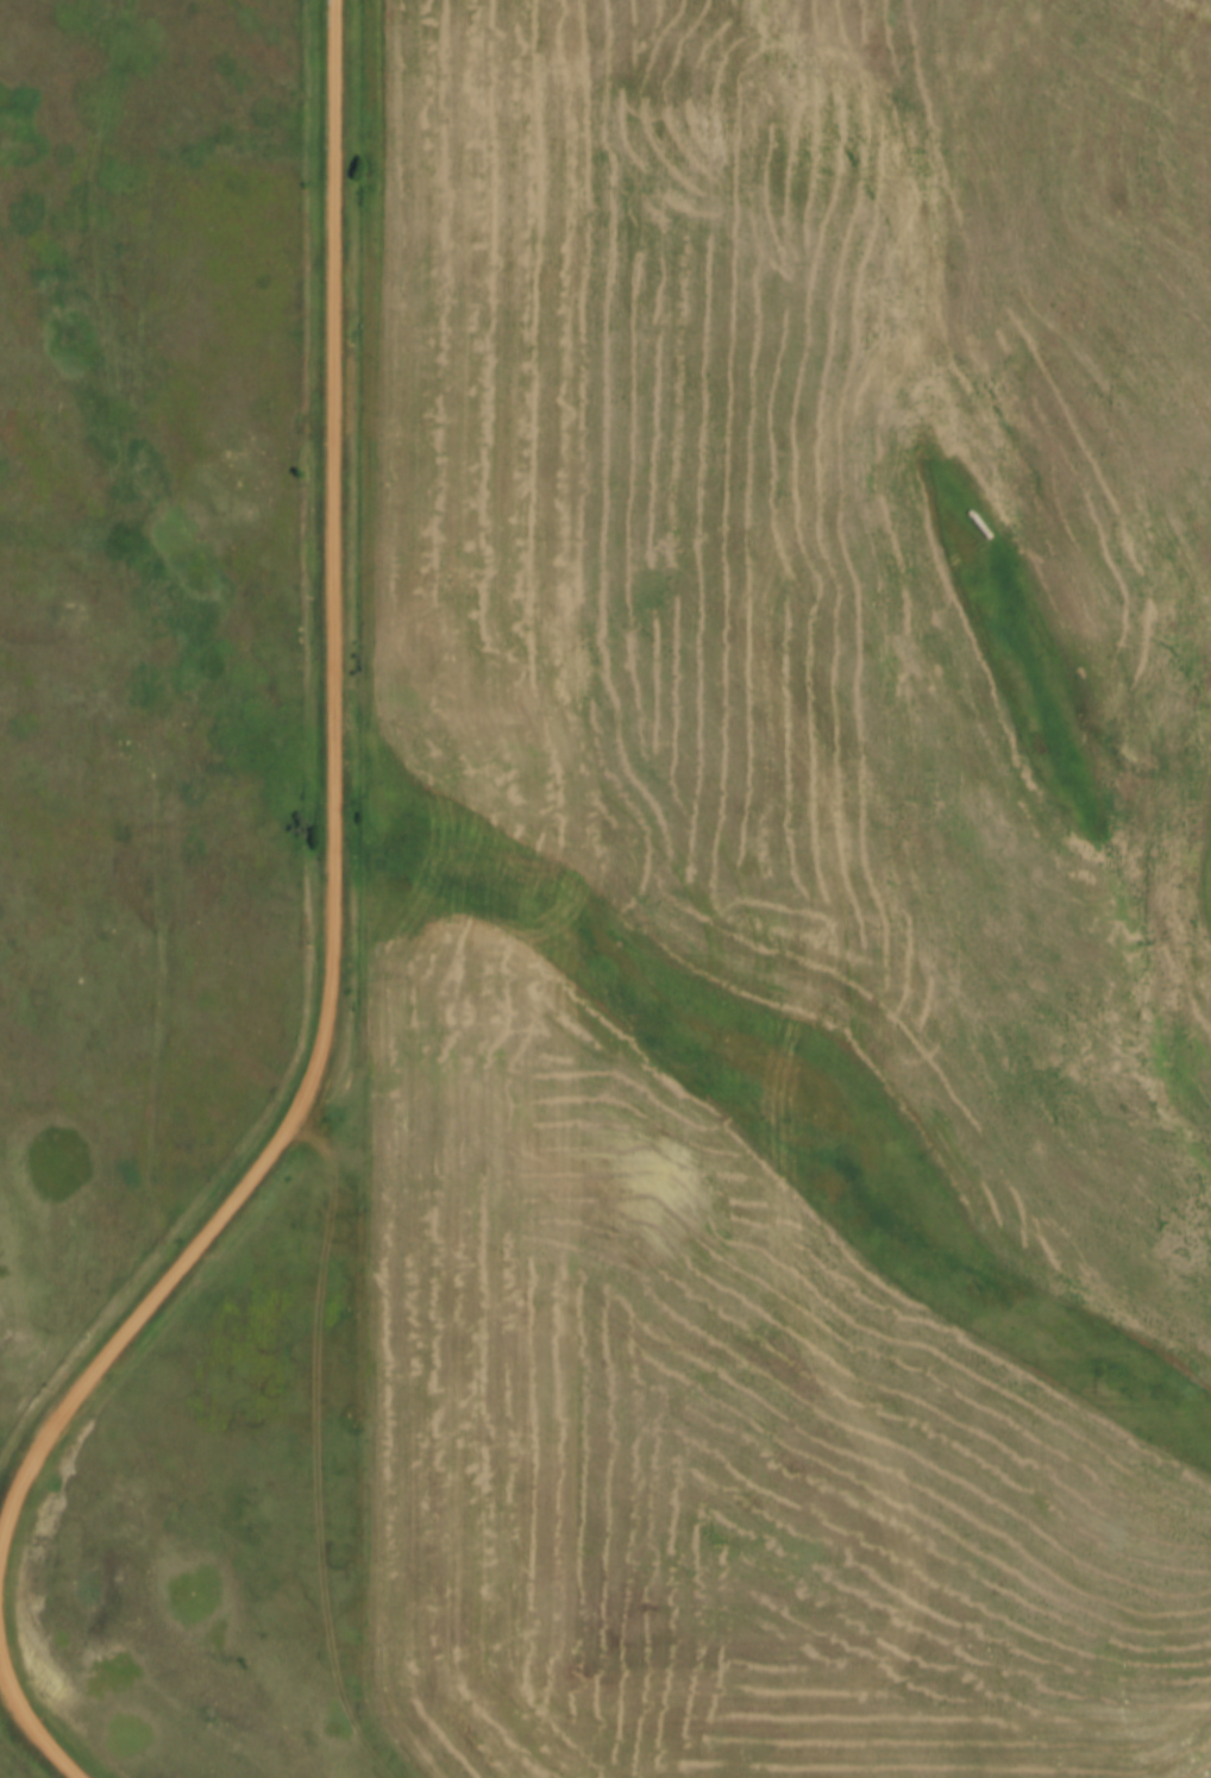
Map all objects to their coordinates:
road: (328, 817)
road: (29, 1728)

